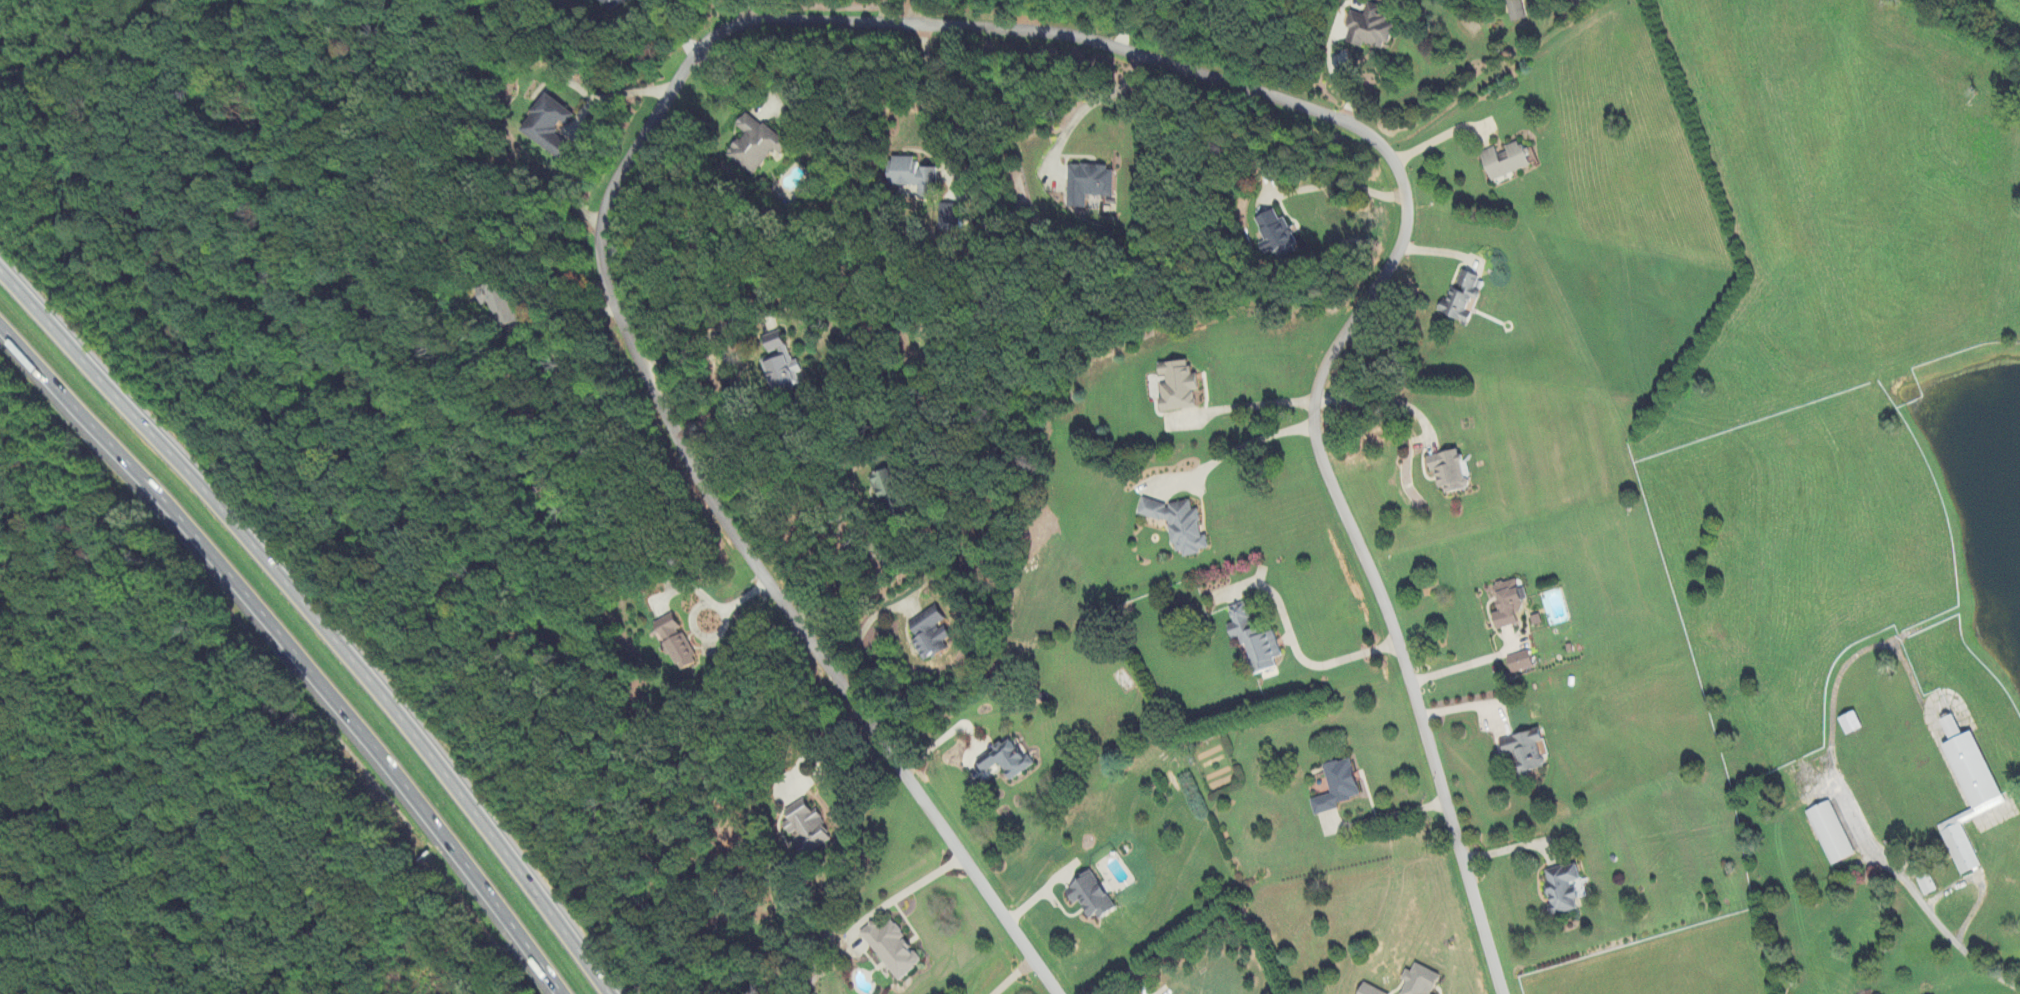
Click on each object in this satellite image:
building: (612, 3)
road: (744, 8)
building: (1520, 9)
road: (917, 11)
road: (1130, 22)
road: (958, 25)
building: (1378, 26)
road: (669, 28)
road: (747, 68)
road: (599, 100)
road: (1095, 102)
road: (951, 103)
building: (548, 123)
building: (754, 142)
building: (1508, 159)
building: (918, 175)
building: (1091, 181)
road: (1351, 184)
building: (949, 217)
building: (1278, 231)
building: (1464, 293)
building: (507, 303)
road: (534, 324)
road: (711, 335)
building: (781, 343)
building: (784, 371)
building: (1181, 385)
road: (1384, 400)
road: (1264, 403)
road: (1236, 448)
building: (1451, 471)
building: (894, 492)
building: (1183, 522)
road: (839, 583)
road: (749, 594)
building: (1514, 606)
road: (316, 620)
road: (863, 625)
road: (708, 636)
road: (1295, 636)
building: (933, 637)
building: (680, 640)
building: (1260, 640)
road: (291, 651)
building: (1522, 662)
road: (1462, 668)
building: (1853, 724)
road: (944, 736)
building: (1531, 751)
building: (1010, 758)
road: (818, 760)
building: (1343, 786)
building: (1964, 790)
road: (1385, 816)
building: (808, 825)
road: (1865, 827)
building: (1828, 831)
road: (1510, 847)
building: (1924, 883)
road: (911, 886)
building: (1570, 887)
building: (1094, 895)
building: (895, 946)
building: (1424, 981)
building: (1373, 990)

